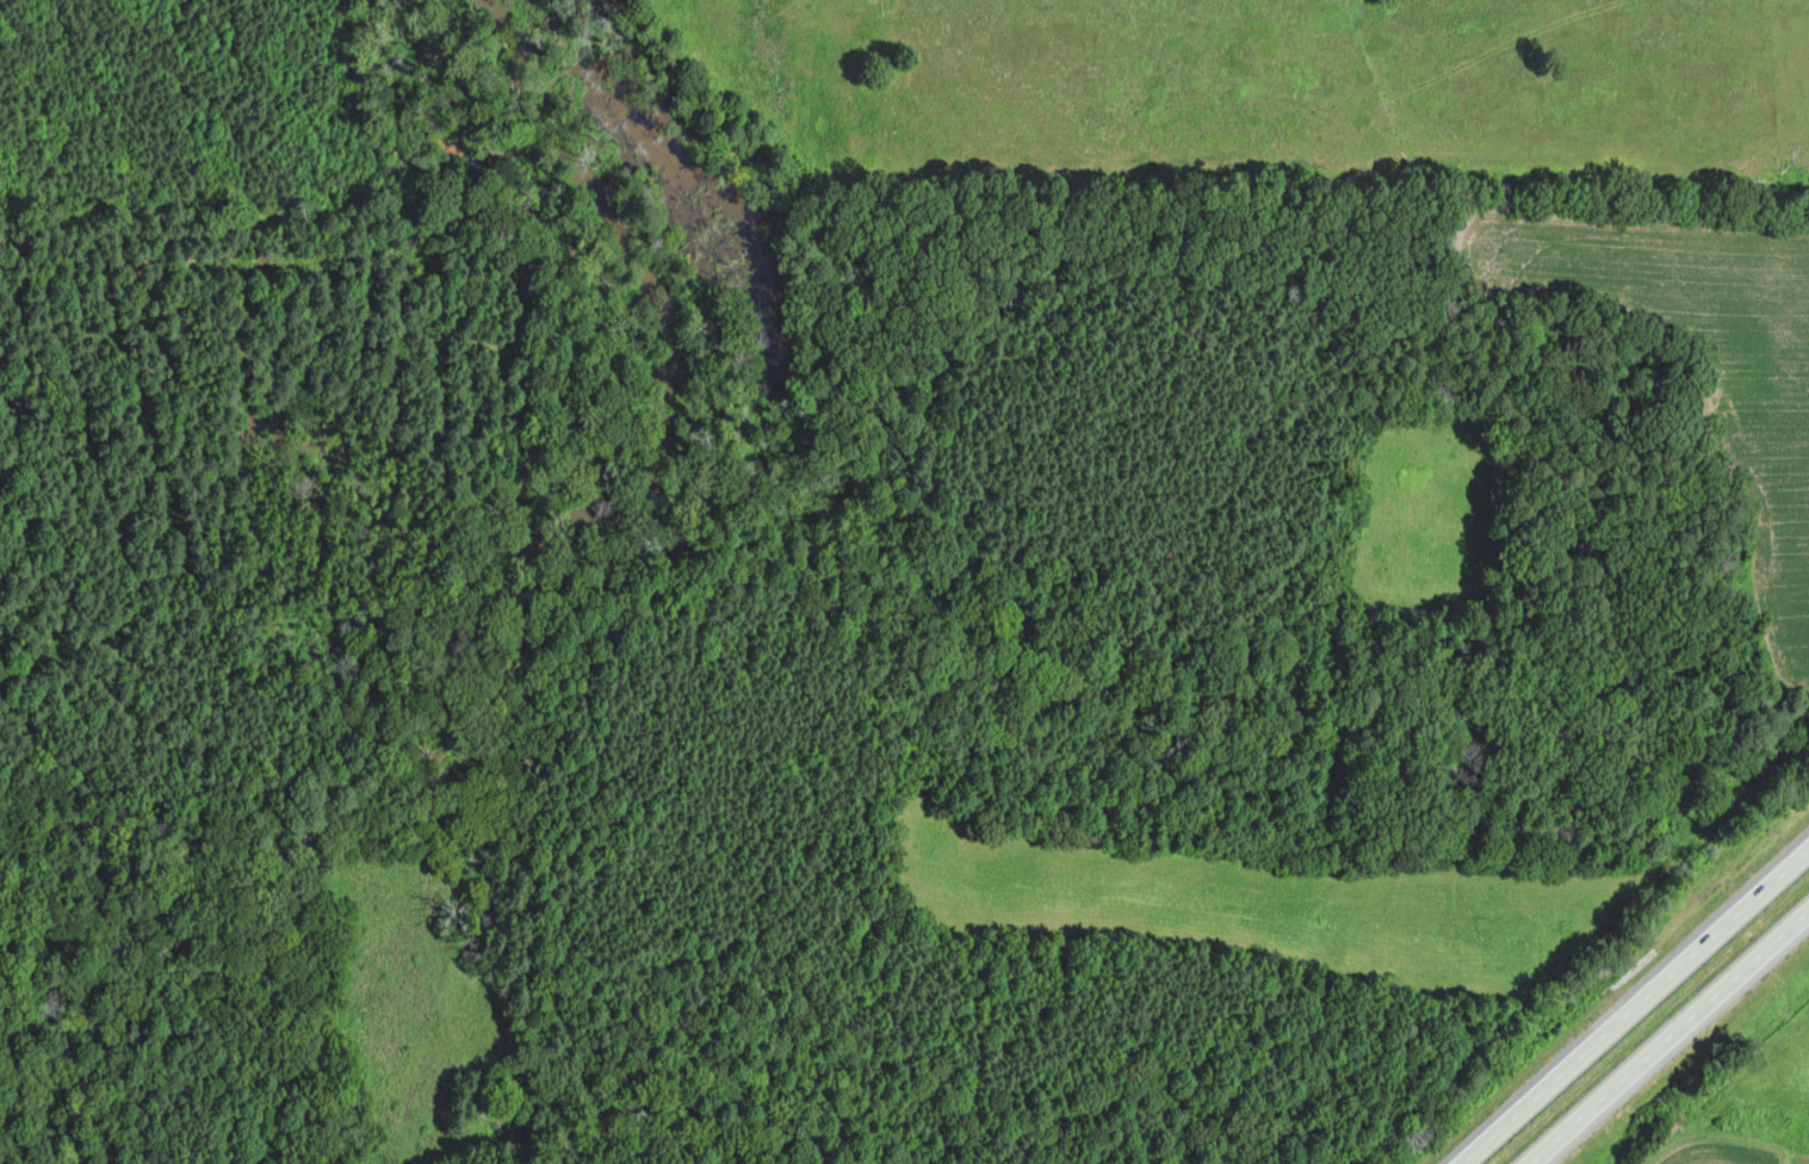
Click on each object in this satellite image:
road: (1796, 739)
road: (1630, 1002)
road: (1668, 1035)

